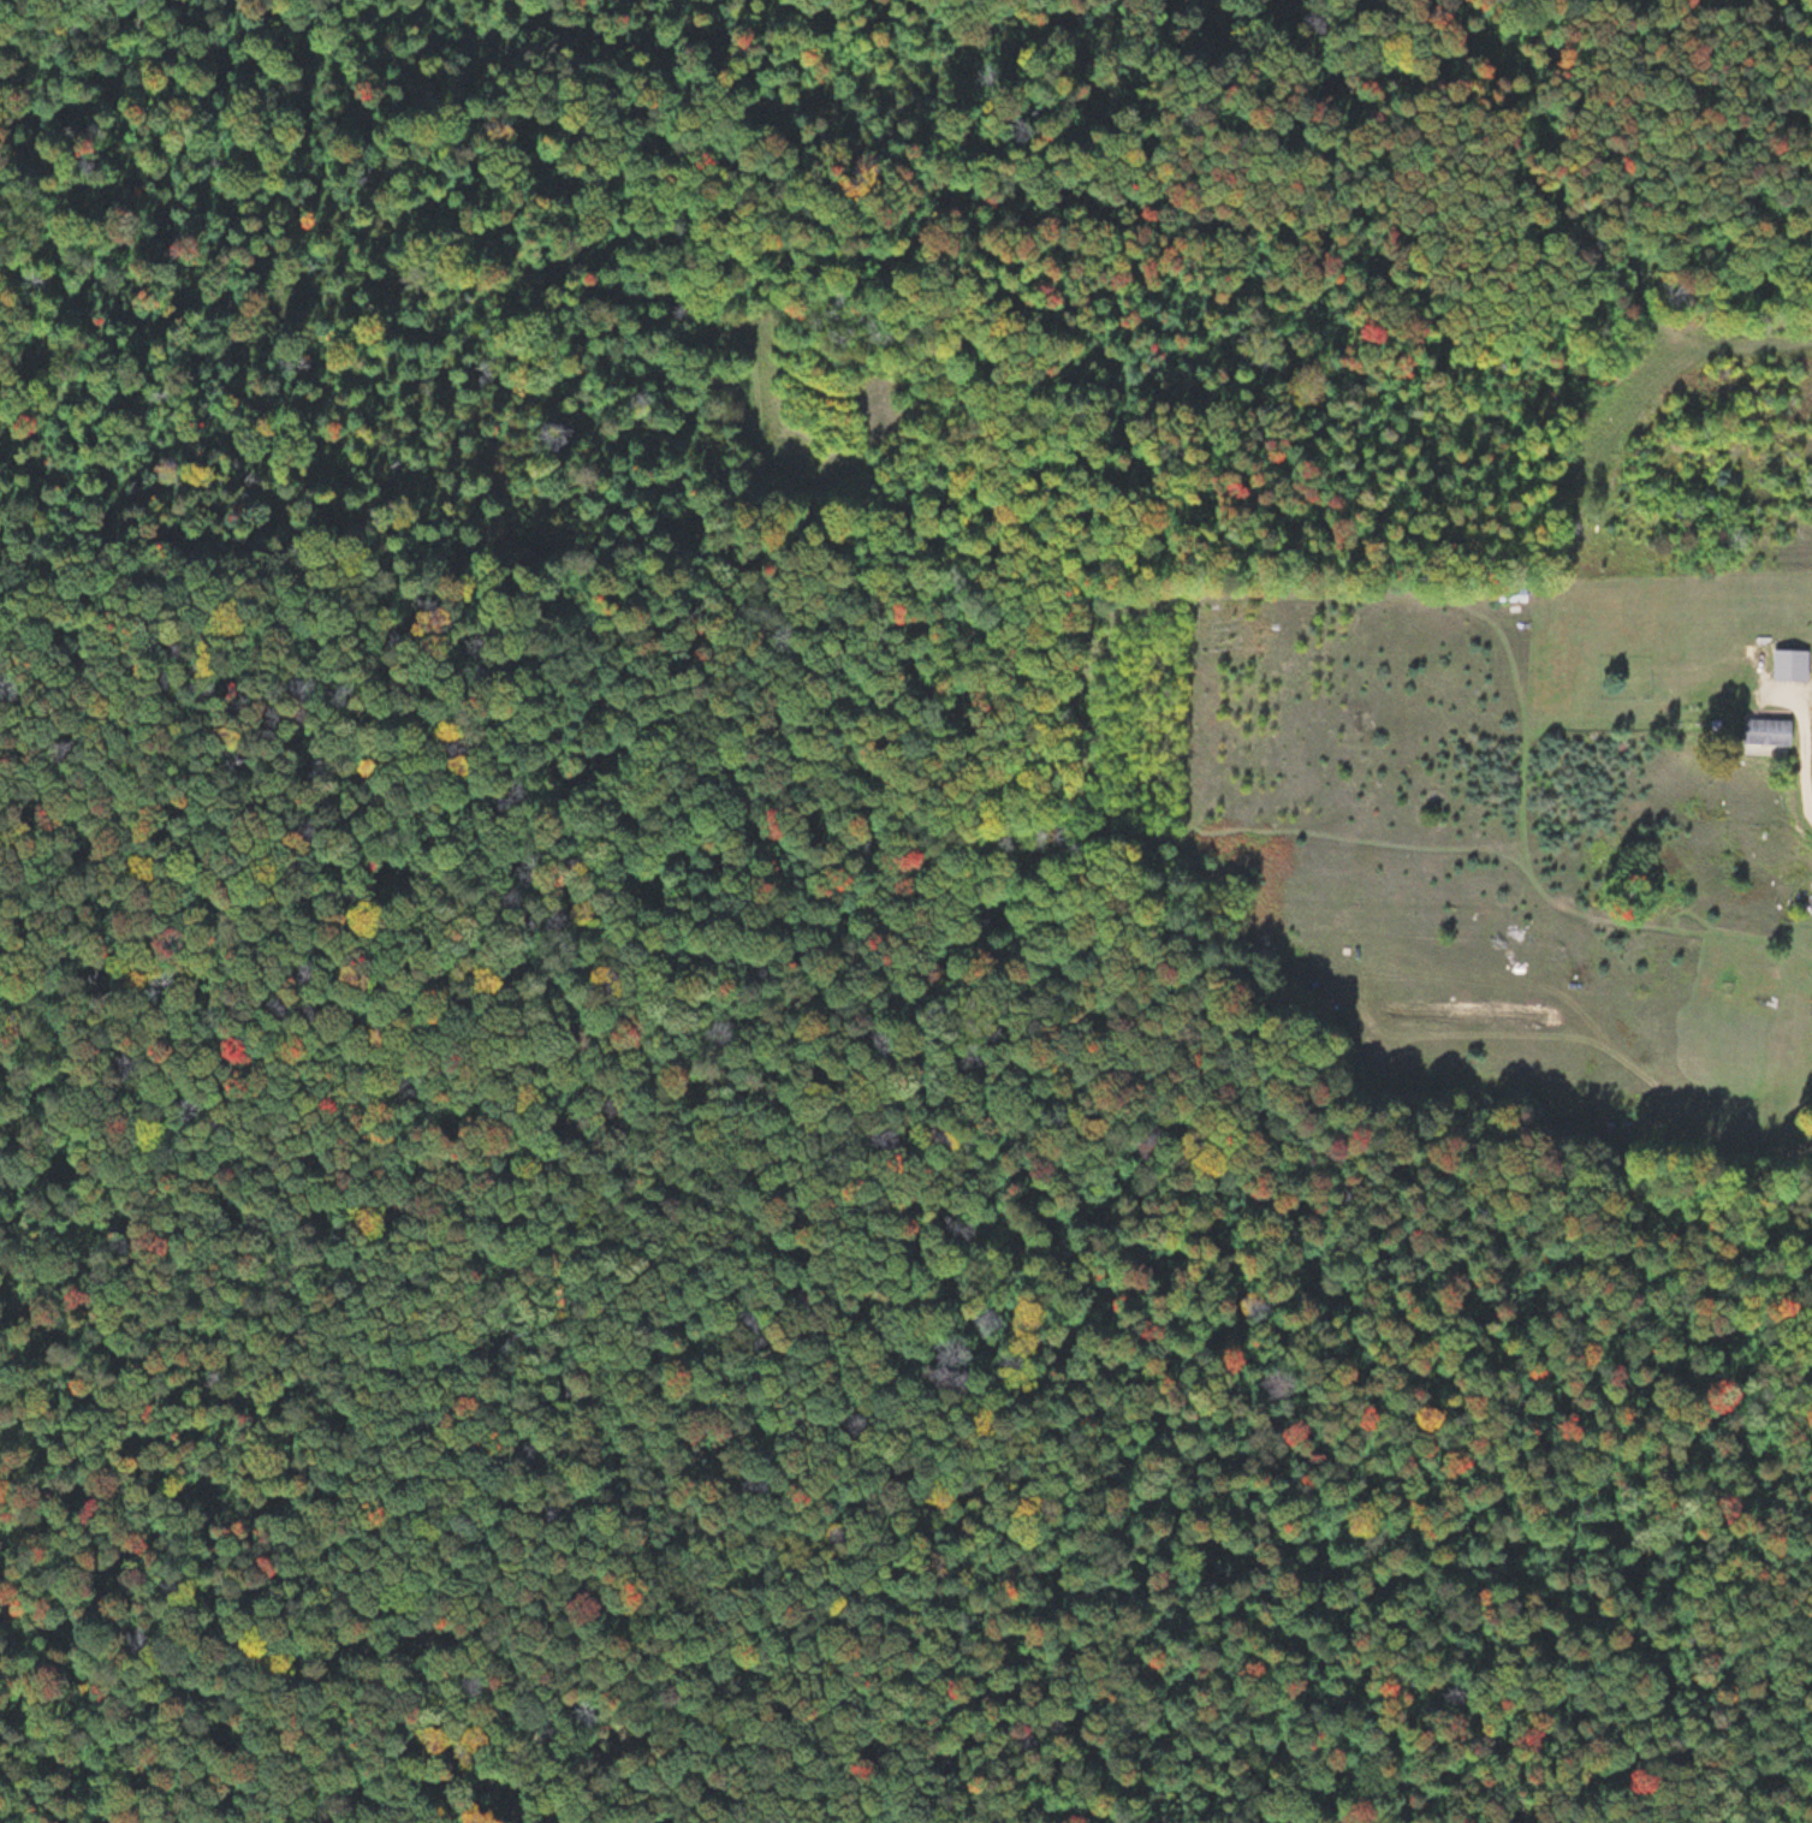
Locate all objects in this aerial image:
road: (164, 1)
road: (73, 61)
building: (1509, 593)
building: (1765, 731)
road: (1558, 1338)
road: (19, 1717)

